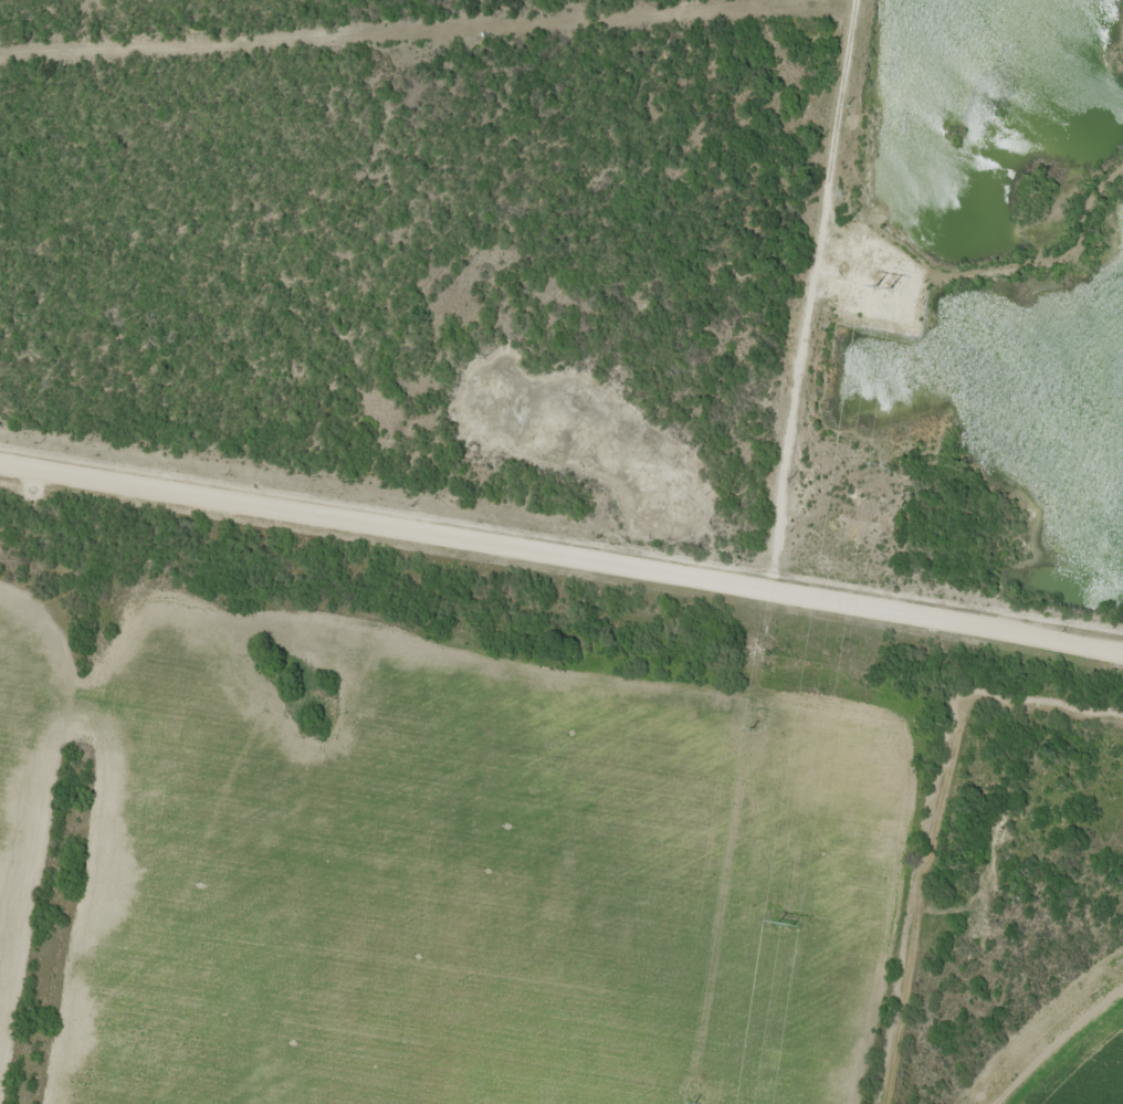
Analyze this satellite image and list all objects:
power tower: (882, 288)
road: (557, 523)
railway: (561, 571)
road: (961, 769)
road: (900, 906)
power tower: (785, 925)

